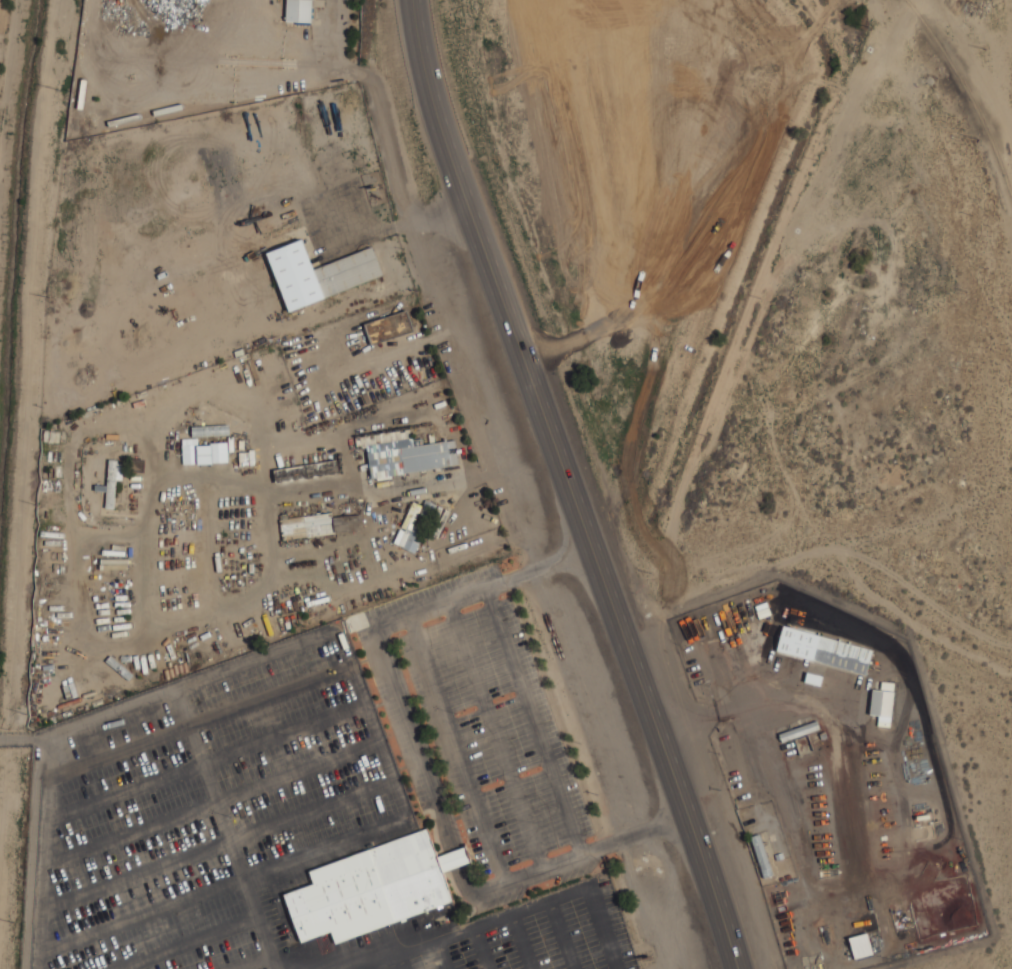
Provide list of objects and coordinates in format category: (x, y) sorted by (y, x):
building: (299, 10)
railway: (968, 95)
road: (445, 140)
building: (319, 274)
building: (388, 327)
building: (211, 430)
building: (203, 452)
building: (306, 467)
building: (113, 481)
building: (318, 525)
building: (409, 529)
road: (541, 569)
road: (451, 602)
road: (620, 621)
building: (824, 649)
building: (882, 703)
road: (635, 835)
building: (761, 855)
building: (457, 858)
building: (373, 889)
building: (860, 945)

